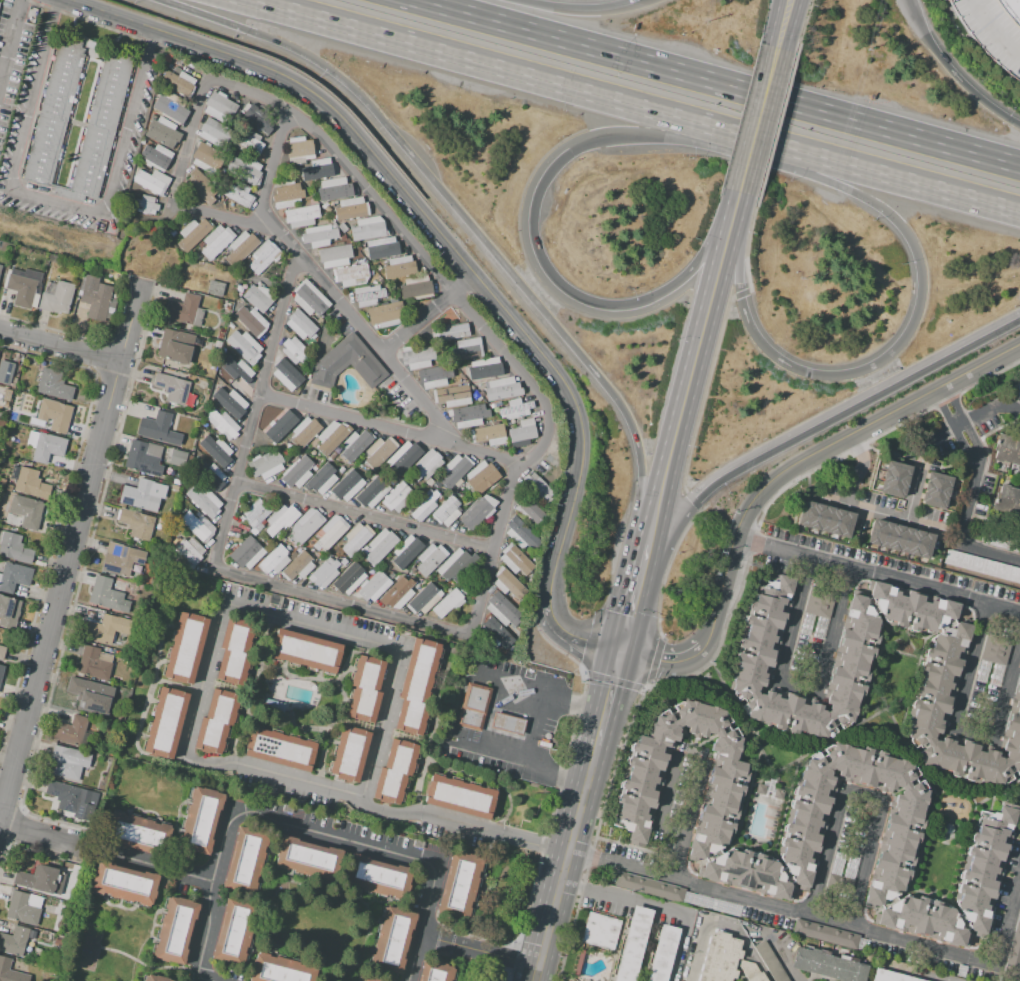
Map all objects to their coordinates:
road: (577, 9)
road: (911, 11)
building: (1009, 11)
road: (782, 24)
road: (790, 25)
road: (990, 32)
building: (989, 33)
parking garage: (989, 33)
road: (10, 41)
road: (490, 66)
building: (176, 69)
road: (961, 80)
building: (178, 82)
road: (719, 90)
building: (171, 106)
building: (219, 106)
building: (55, 109)
building: (258, 119)
building: (102, 121)
road: (759, 121)
building: (162, 132)
building: (214, 132)
road: (647, 136)
road: (753, 139)
building: (247, 142)
road: (189, 143)
building: (299, 150)
traffic signals: (570, 151)
building: (155, 156)
building: (207, 158)
building: (317, 169)
building: (245, 170)
road: (899, 180)
building: (152, 181)
building: (201, 186)
building: (335, 189)
building: (238, 194)
building: (286, 194)
road: (737, 200)
road: (57, 201)
building: (144, 205)
building: (324, 205)
building: (327, 209)
building: (351, 209)
building: (301, 216)
road: (427, 217)
road: (225, 219)
building: (342, 227)
building: (367, 228)
road: (476, 230)
building: (172, 232)
building: (192, 234)
building: (319, 235)
building: (216, 241)
building: (240, 248)
building: (382, 248)
building: (334, 255)
building: (264, 256)
building: (0, 266)
building: (399, 267)
building: (350, 275)
road: (324, 285)
building: (22, 286)
building: (215, 288)
building: (416, 288)
building: (367, 295)
building: (95, 296)
building: (259, 297)
building: (56, 298)
building: (309, 299)
building: (202, 303)
road: (596, 304)
building: (184, 310)
road: (427, 311)
building: (385, 314)
road: (471, 316)
traffic signals: (1019, 319)
building: (250, 321)
building: (301, 325)
building: (452, 331)
road: (58, 344)
building: (175, 346)
building: (244, 346)
building: (467, 348)
building: (294, 351)
road: (894, 352)
building: (416, 357)
building: (347, 363)
building: (237, 369)
building: (481, 370)
building: (6, 371)
building: (286, 374)
building: (434, 376)
road: (690, 376)
building: (53, 384)
building: (172, 388)
building: (502, 389)
building: (1017, 389)
building: (7, 395)
building: (452, 395)
building: (479, 399)
building: (230, 402)
building: (492, 405)
road: (854, 406)
building: (515, 409)
building: (54, 414)
building: (468, 415)
road: (968, 419)
building: (222, 424)
building: (278, 428)
road: (392, 428)
building: (158, 429)
building: (304, 432)
building: (522, 433)
building: (488, 435)
building: (331, 437)
road: (942, 438)
building: (354, 445)
building: (47, 447)
building: (1007, 449)
building: (336, 450)
building: (216, 451)
building: (379, 451)
road: (815, 454)
building: (332, 455)
building: (142, 457)
building: (177, 458)
building: (403, 458)
building: (265, 465)
building: (426, 465)
road: (861, 468)
building: (341, 469)
building: (454, 470)
building: (297, 472)
building: (209, 475)
building: (481, 477)
building: (321, 479)
building: (894, 480)
building: (176, 481)
building: (2, 482)
building: (31, 484)
building: (536, 484)
building: (347, 486)
building: (8, 488)
building: (175, 488)
building: (935, 490)
building: (372, 492)
building: (140, 496)
building: (397, 497)
building: (204, 501)
building: (1008, 502)
building: (423, 504)
building: (529, 509)
building: (27, 511)
building: (446, 511)
building: (476, 511)
building: (257, 512)
road: (885, 513)
road: (963, 514)
road: (365, 515)
building: (280, 518)
building: (825, 518)
building: (136, 523)
road: (925, 523)
building: (307, 525)
building: (197, 526)
building: (331, 531)
building: (523, 532)
road: (222, 538)
building: (356, 538)
building: (899, 538)
building: (993, 538)
road: (68, 540)
building: (380, 546)
building: (14, 548)
building: (405, 551)
building: (188, 552)
building: (246, 553)
road: (661, 554)
building: (120, 559)
building: (274, 559)
building: (430, 559)
building: (517, 559)
road: (646, 560)
building: (298, 566)
building: (457, 566)
building: (982, 566)
building: (324, 573)
road: (877, 575)
building: (14, 577)
building: (349, 578)
building: (511, 585)
building: (373, 587)
building: (464, 590)
road: (638, 592)
building: (397, 593)
building: (106, 595)
building: (423, 599)
building: (818, 602)
building: (448, 603)
building: (505, 609)
building: (9, 611)
road: (792, 620)
building: (106, 628)
road: (627, 630)
road: (833, 630)
building: (497, 632)
road: (578, 638)
building: (185, 647)
building: (993, 648)
building: (306, 651)
building: (2, 652)
building: (233, 652)
traffic signals: (622, 652)
building: (943, 658)
road: (665, 660)
building: (93, 662)
road: (968, 667)
building: (1, 670)
road: (614, 679)
building: (416, 686)
road: (796, 686)
building: (365, 689)
road: (1006, 689)
building: (91, 695)
building: (473, 708)
road: (195, 713)
road: (487, 718)
building: (217, 721)
building: (165, 722)
building: (506, 723)
road: (602, 726)
road: (531, 727)
building: (71, 731)
road: (972, 735)
building: (279, 750)
building: (350, 754)
road: (689, 761)
building: (67, 762)
building: (394, 770)
building: (760, 789)
building: (777, 794)
building: (458, 796)
road: (862, 797)
building: (71, 799)
road: (663, 799)
building: (202, 820)
road: (690, 821)
building: (816, 826)
road: (310, 830)
road: (38, 833)
building: (137, 834)
road: (826, 853)
building: (307, 857)
building: (244, 859)
road: (565, 863)
road: (866, 864)
road: (159, 867)
building: (378, 876)
building: (41, 879)
building: (124, 883)
building: (458, 886)
building: (648, 887)
road: (657, 906)
road: (780, 906)
building: (21, 909)
road: (1006, 915)
road: (720, 925)
building: (175, 931)
building: (234, 931)
building: (600, 931)
building: (824, 933)
building: (392, 939)
building: (16, 940)
building: (632, 944)
building: (1014, 947)
building: (36, 950)
road: (481, 952)
building: (662, 953)
building: (719, 958)
road: (783, 958)
building: (770, 962)
building: (827, 965)
building: (280, 969)
building: (749, 971)
building: (10, 972)
building: (434, 972)
road: (911, 973)
building: (890, 976)
road: (205, 978)
building: (370, 978)
building: (153, 979)

